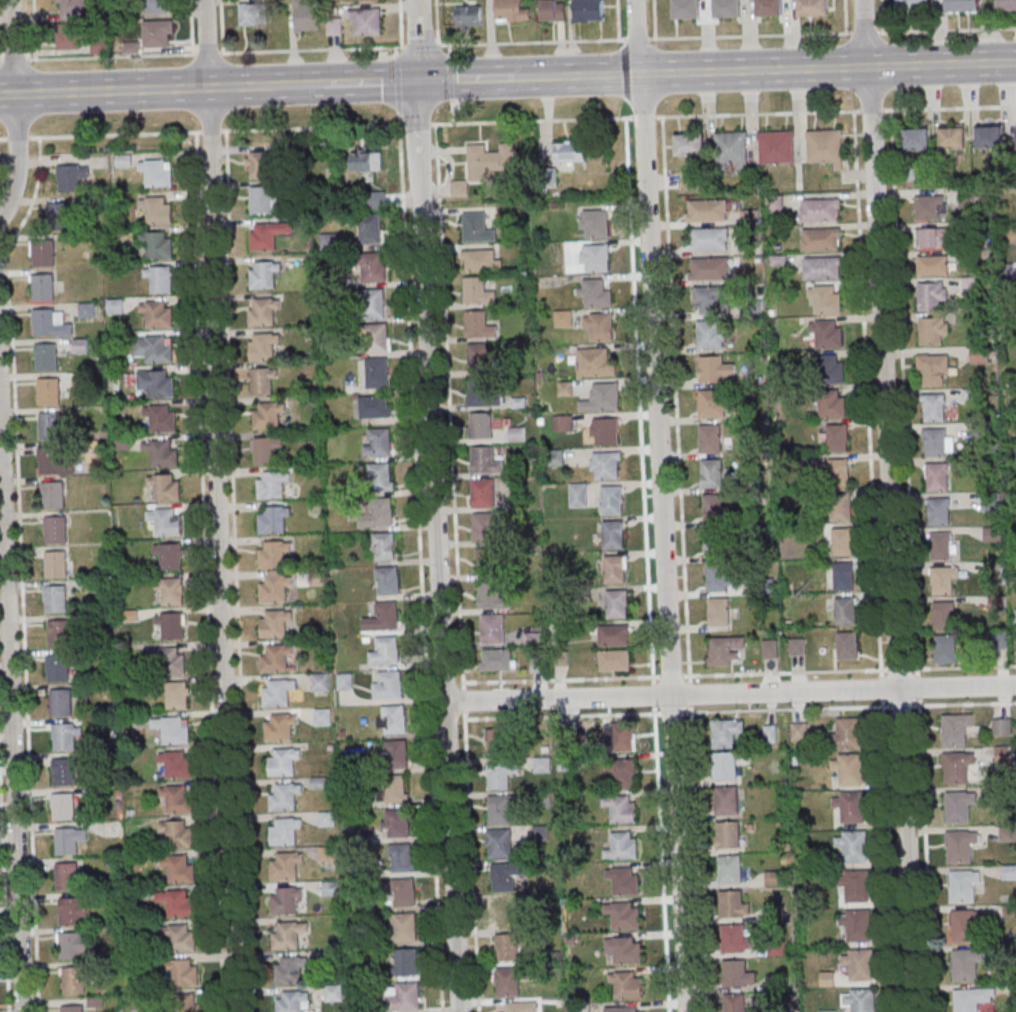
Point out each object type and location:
building: (366, 0)
building: (914, 5)
building: (963, 6)
building: (1006, 6)
building: (72, 7)
building: (156, 7)
building: (812, 8)
building: (726, 9)
building: (769, 9)
building: (552, 10)
building: (589, 10)
building: (686, 10)
building: (511, 11)
building: (251, 13)
building: (469, 15)
road: (881, 16)
building: (307, 17)
road: (844, 17)
road: (654, 19)
road: (618, 20)
road: (436, 22)
road: (400, 23)
road: (415, 23)
building: (368, 24)
road: (33, 30)
road: (947, 30)
road: (864, 33)
building: (156, 34)
building: (68, 36)
road: (749, 36)
road: (637, 38)
road: (533, 42)
road: (422, 45)
road: (450, 49)
road: (396, 51)
road: (202, 54)
road: (416, 63)
road: (940, 64)
road: (754, 70)
road: (603, 74)
road: (450, 76)
road: (540, 76)
road: (466, 77)
traffic signals: (417, 80)
road: (370, 82)
road: (298, 84)
road: (398, 84)
road: (240, 86)
road: (111, 90)
road: (7, 94)
road: (418, 101)
road: (15, 109)
road: (452, 111)
road: (723, 115)
road: (417, 123)
road: (311, 127)
road: (209, 132)
road: (112, 134)
building: (989, 136)
building: (952, 138)
road: (3, 139)
road: (16, 139)
building: (917, 139)
building: (690, 144)
building: (826, 146)
building: (776, 148)
building: (731, 150)
building: (569, 152)
building: (366, 161)
building: (489, 161)
building: (259, 164)
building: (157, 172)
building: (70, 178)
building: (966, 197)
building: (264, 199)
building: (774, 205)
building: (929, 209)
building: (157, 210)
building: (706, 211)
building: (818, 211)
building: (61, 214)
building: (595, 223)
building: (477, 228)
building: (371, 229)
building: (266, 236)
building: (1010, 236)
building: (934, 239)
building: (707, 240)
building: (820, 240)
building: (161, 245)
building: (43, 254)
building: (596, 257)
building: (481, 261)
building: (933, 266)
building: (370, 268)
building: (708, 269)
building: (821, 269)
building: (1004, 272)
building: (262, 276)
building: (160, 278)
building: (969, 286)
building: (42, 289)
building: (477, 291)
building: (595, 292)
building: (932, 296)
building: (710, 300)
building: (825, 301)
building: (374, 304)
building: (115, 306)
building: (262, 313)
building: (157, 314)
building: (563, 318)
building: (478, 323)
building: (43, 324)
building: (599, 326)
building: (932, 332)
building: (709, 335)
building: (827, 336)
building: (379, 338)
building: (261, 348)
building: (154, 349)
building: (978, 355)
building: (45, 358)
building: (478, 358)
building: (595, 362)
building: (714, 370)
building: (828, 370)
building: (377, 372)
building: (933, 372)
building: (262, 381)
building: (156, 383)
building: (565, 389)
road: (865, 390)
building: (485, 392)
building: (47, 393)
road: (674, 396)
road: (637, 397)
building: (602, 398)
building: (708, 405)
building: (828, 405)
building: (375, 407)
road: (902, 408)
building: (934, 408)
building: (161, 417)
building: (267, 417)
building: (563, 423)
building: (481, 426)
building: (48, 428)
building: (979, 430)
building: (603, 431)
building: (516, 436)
building: (709, 439)
building: (836, 439)
building: (378, 442)
building: (935, 443)
building: (266, 450)
building: (163, 452)
building: (485, 461)
building: (49, 462)
building: (606, 465)
building: (838, 473)
building: (711, 474)
building: (381, 477)
building: (937, 477)
building: (271, 485)
building: (165, 487)
building: (483, 494)
building: (578, 495)
building: (52, 497)
building: (612, 500)
building: (990, 502)
road: (662, 505)
road: (889, 505)
road: (217, 506)
building: (712, 508)
building: (840, 508)
building: (939, 512)
building: (380, 514)
building: (166, 521)
building: (272, 521)
building: (484, 528)
building: (54, 531)
building: (614, 534)
building: (991, 535)
building: (713, 543)
building: (841, 543)
building: (384, 547)
building: (941, 547)
building: (272, 555)
building: (170, 556)
building: (491, 561)
road: (420, 562)
building: (54, 565)
road: (438, 567)
road: (456, 567)
building: (615, 569)
building: (991, 569)
road: (204, 571)
road: (234, 571)
building: (842, 577)
building: (715, 578)
building: (387, 580)
building: (943, 581)
building: (273, 589)
building: (171, 590)
building: (494, 595)
building: (55, 601)
building: (617, 603)
building: (995, 604)
building: (844, 612)
building: (718, 613)
building: (944, 616)
building: (1015, 616)
building: (383, 617)
building: (274, 624)
building: (169, 625)
building: (492, 629)
building: (59, 635)
building: (614, 635)
road: (23, 645)
building: (846, 647)
building: (770, 648)
building: (945, 648)
building: (386, 651)
building: (724, 651)
building: (275, 659)
building: (168, 660)
building: (498, 660)
building: (615, 660)
building: (56, 669)
road: (738, 674)
building: (345, 681)
building: (321, 682)
building: (388, 686)
road: (729, 692)
building: (277, 694)
building: (177, 695)
building: (59, 704)
road: (958, 704)
road: (11, 712)
road: (681, 713)
building: (323, 716)
building: (392, 719)
building: (1000, 726)
building: (952, 728)
building: (279, 729)
building: (172, 730)
building: (721, 732)
building: (800, 732)
building: (843, 734)
building: (622, 737)
building: (63, 738)
building: (497, 742)
building: (397, 753)
building: (1001, 754)
building: (282, 763)
building: (722, 764)
building: (176, 765)
building: (542, 765)
building: (954, 765)
building: (847, 768)
building: (62, 773)
building: (624, 773)
building: (501, 775)
building: (396, 789)
building: (283, 798)
building: (177, 799)
building: (724, 799)
building: (956, 805)
building: (848, 806)
building: (61, 807)
building: (501, 810)
building: (620, 811)
building: (326, 818)
building: (398, 823)
building: (177, 833)
building: (284, 833)
building: (1005, 833)
building: (726, 834)
road: (887, 840)
building: (65, 842)
road: (695, 843)
building: (499, 844)
road: (659, 844)
building: (851, 845)
building: (958, 845)
building: (622, 847)
building: (328, 853)
building: (402, 857)
road: (924, 859)
building: (285, 867)
building: (727, 868)
building: (179, 869)
building: (1008, 872)
building: (66, 877)
building: (504, 878)
building: (622, 881)
building: (960, 884)
building: (853, 885)
building: (405, 892)
building: (177, 902)
building: (285, 902)
building: (729, 903)
road: (4, 910)
building: (69, 912)
building: (622, 914)
building: (855, 924)
building: (962, 924)
building: (405, 928)
building: (181, 937)
building: (286, 937)
building: (731, 938)
building: (70, 947)
building: (507, 948)
building: (624, 950)
building: (406, 963)
building: (964, 963)
building: (857, 964)
building: (289, 970)
building: (182, 972)
building: (732, 973)
building: (72, 981)
building: (509, 981)
building: (626, 984)
building: (406, 997)
building: (859, 999)
building: (966, 999)
building: (188, 1002)
building: (291, 1002)
building: (732, 1002)
building: (625, 1008)
building: (71, 1009)
building: (580, 1009)

